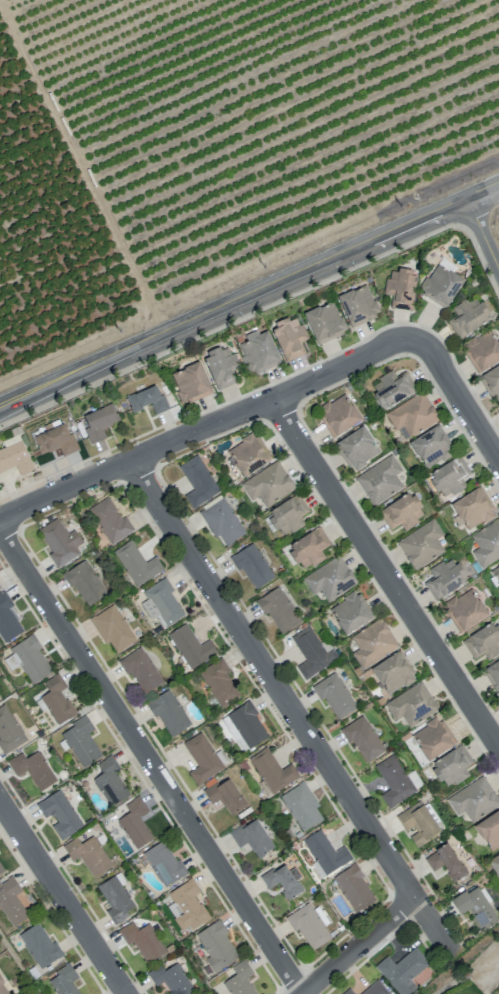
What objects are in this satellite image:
road: (482, 232)
building: (440, 285)
building: (400, 288)
road: (249, 295)
building: (358, 305)
building: (468, 317)
building: (324, 321)
building: (289, 337)
building: (483, 351)
building: (258, 352)
building: (220, 366)
building: (492, 382)
building: (191, 383)
road: (456, 385)
building: (392, 388)
building: (147, 399)
building: (337, 415)
building: (409, 417)
building: (99, 422)
road: (199, 428)
building: (54, 440)
building: (430, 447)
building: (357, 448)
building: (246, 455)
building: (14, 457)
building: (450, 476)
building: (380, 480)
building: (197, 482)
building: (267, 484)
building: (471, 509)
building: (402, 512)
building: (287, 515)
building: (110, 520)
building: (221, 521)
building: (59, 542)
building: (486, 543)
building: (421, 544)
building: (308, 548)
building: (136, 564)
building: (252, 566)
road: (385, 571)
building: (495, 573)
building: (444, 577)
building: (330, 578)
building: (83, 582)
building: (161, 603)
building: (278, 610)
building: (465, 610)
building: (350, 612)
building: (7, 620)
building: (112, 628)
building: (483, 641)
building: (372, 643)
building: (191, 646)
building: (312, 652)
building: (29, 659)
building: (141, 670)
building: (393, 673)
building: (493, 674)
building: (219, 682)
building: (334, 695)
building: (56, 700)
building: (411, 704)
road: (291, 708)
building: (169, 713)
building: (245, 727)
building: (9, 730)
building: (362, 738)
building: (432, 738)
building: (81, 741)
building: (203, 757)
road: (151, 762)
building: (452, 766)
building: (32, 769)
building: (272, 771)
building: (110, 781)
building: (395, 781)
building: (224, 795)
building: (473, 799)
building: (301, 806)
building: (59, 814)
building: (135, 823)
building: (418, 823)
building: (489, 830)
building: (252, 837)
building: (326, 852)
building: (88, 854)
building: (445, 862)
building: (163, 863)
building: (495, 863)
building: (1, 867)
building: (283, 880)
building: (354, 888)
road: (62, 897)
building: (115, 897)
building: (11, 901)
building: (187, 905)
building: (475, 907)
building: (310, 925)
building: (142, 940)
building: (39, 945)
building: (216, 945)
road: (360, 945)
building: (403, 970)
building: (171, 979)
building: (239, 979)
building: (63, 981)
building: (3, 988)
building: (375, 989)
building: (348, 991)

